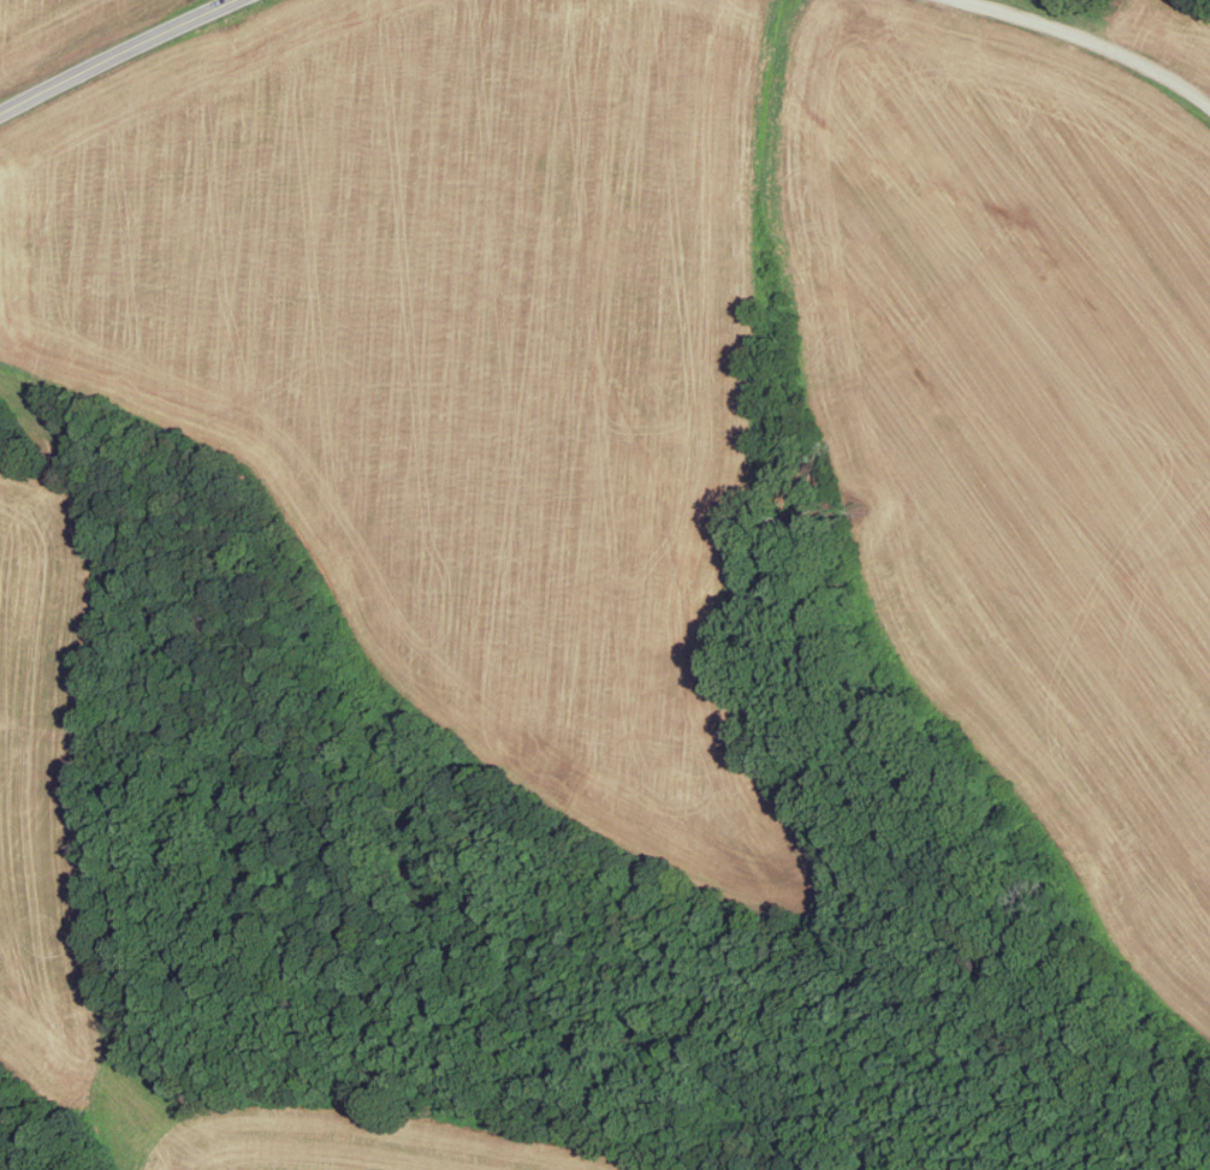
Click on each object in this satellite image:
crop: (1158, 31)
crop: (67, 34)
road: (1089, 41)
road: (114, 54)
crop: (458, 363)
crop: (1019, 421)
road: (37, 470)
road: (73, 760)
crop: (42, 792)
road: (127, 1074)
crop: (382, 1139)

